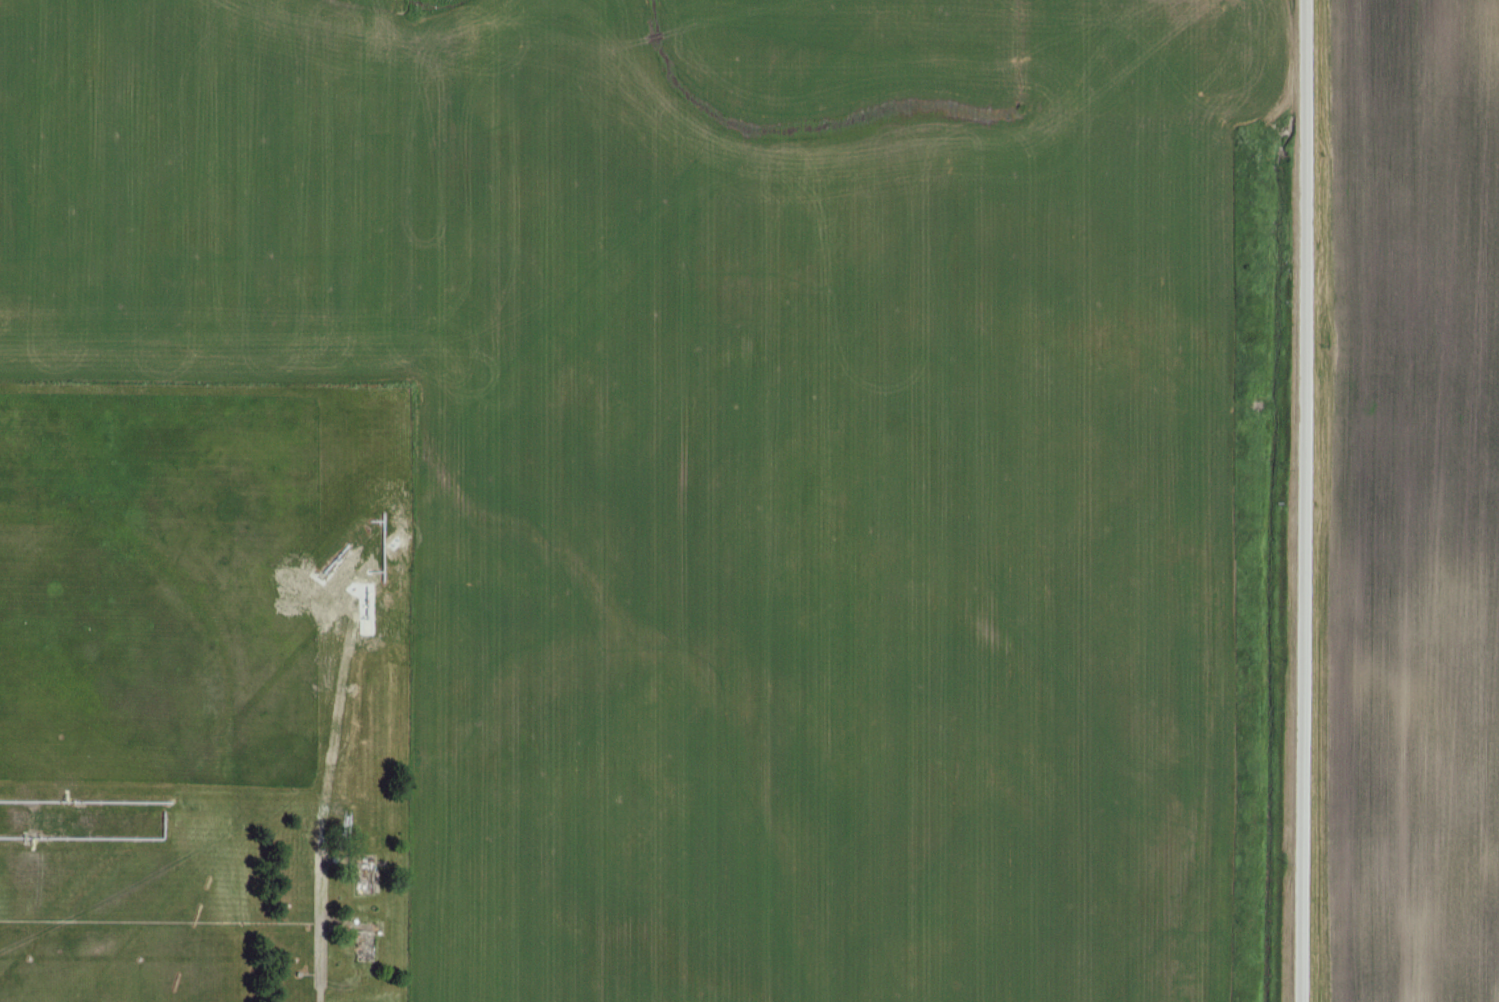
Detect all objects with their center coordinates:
road: (1301, 501)
road: (319, 923)

